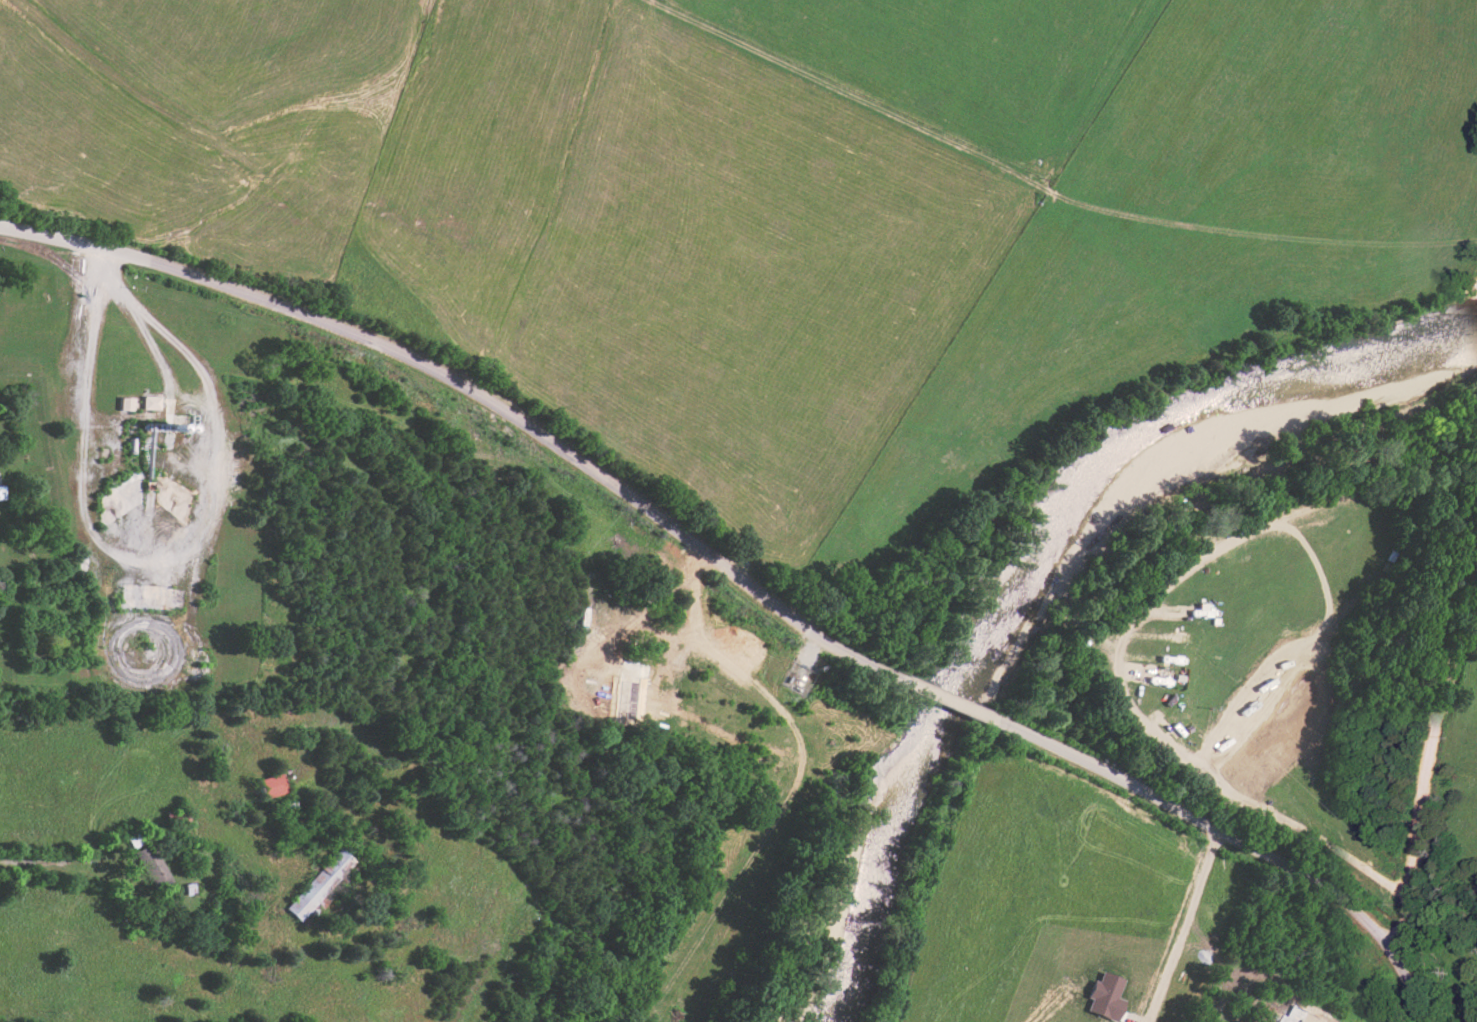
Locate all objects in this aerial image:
road: (578, 199)
road: (447, 374)
building: (149, 403)
building: (124, 404)
river: (1047, 582)
road: (927, 688)
building: (270, 786)
road: (1436, 811)
road: (1247, 855)
building: (149, 864)
road: (57, 866)
road: (1182, 929)

